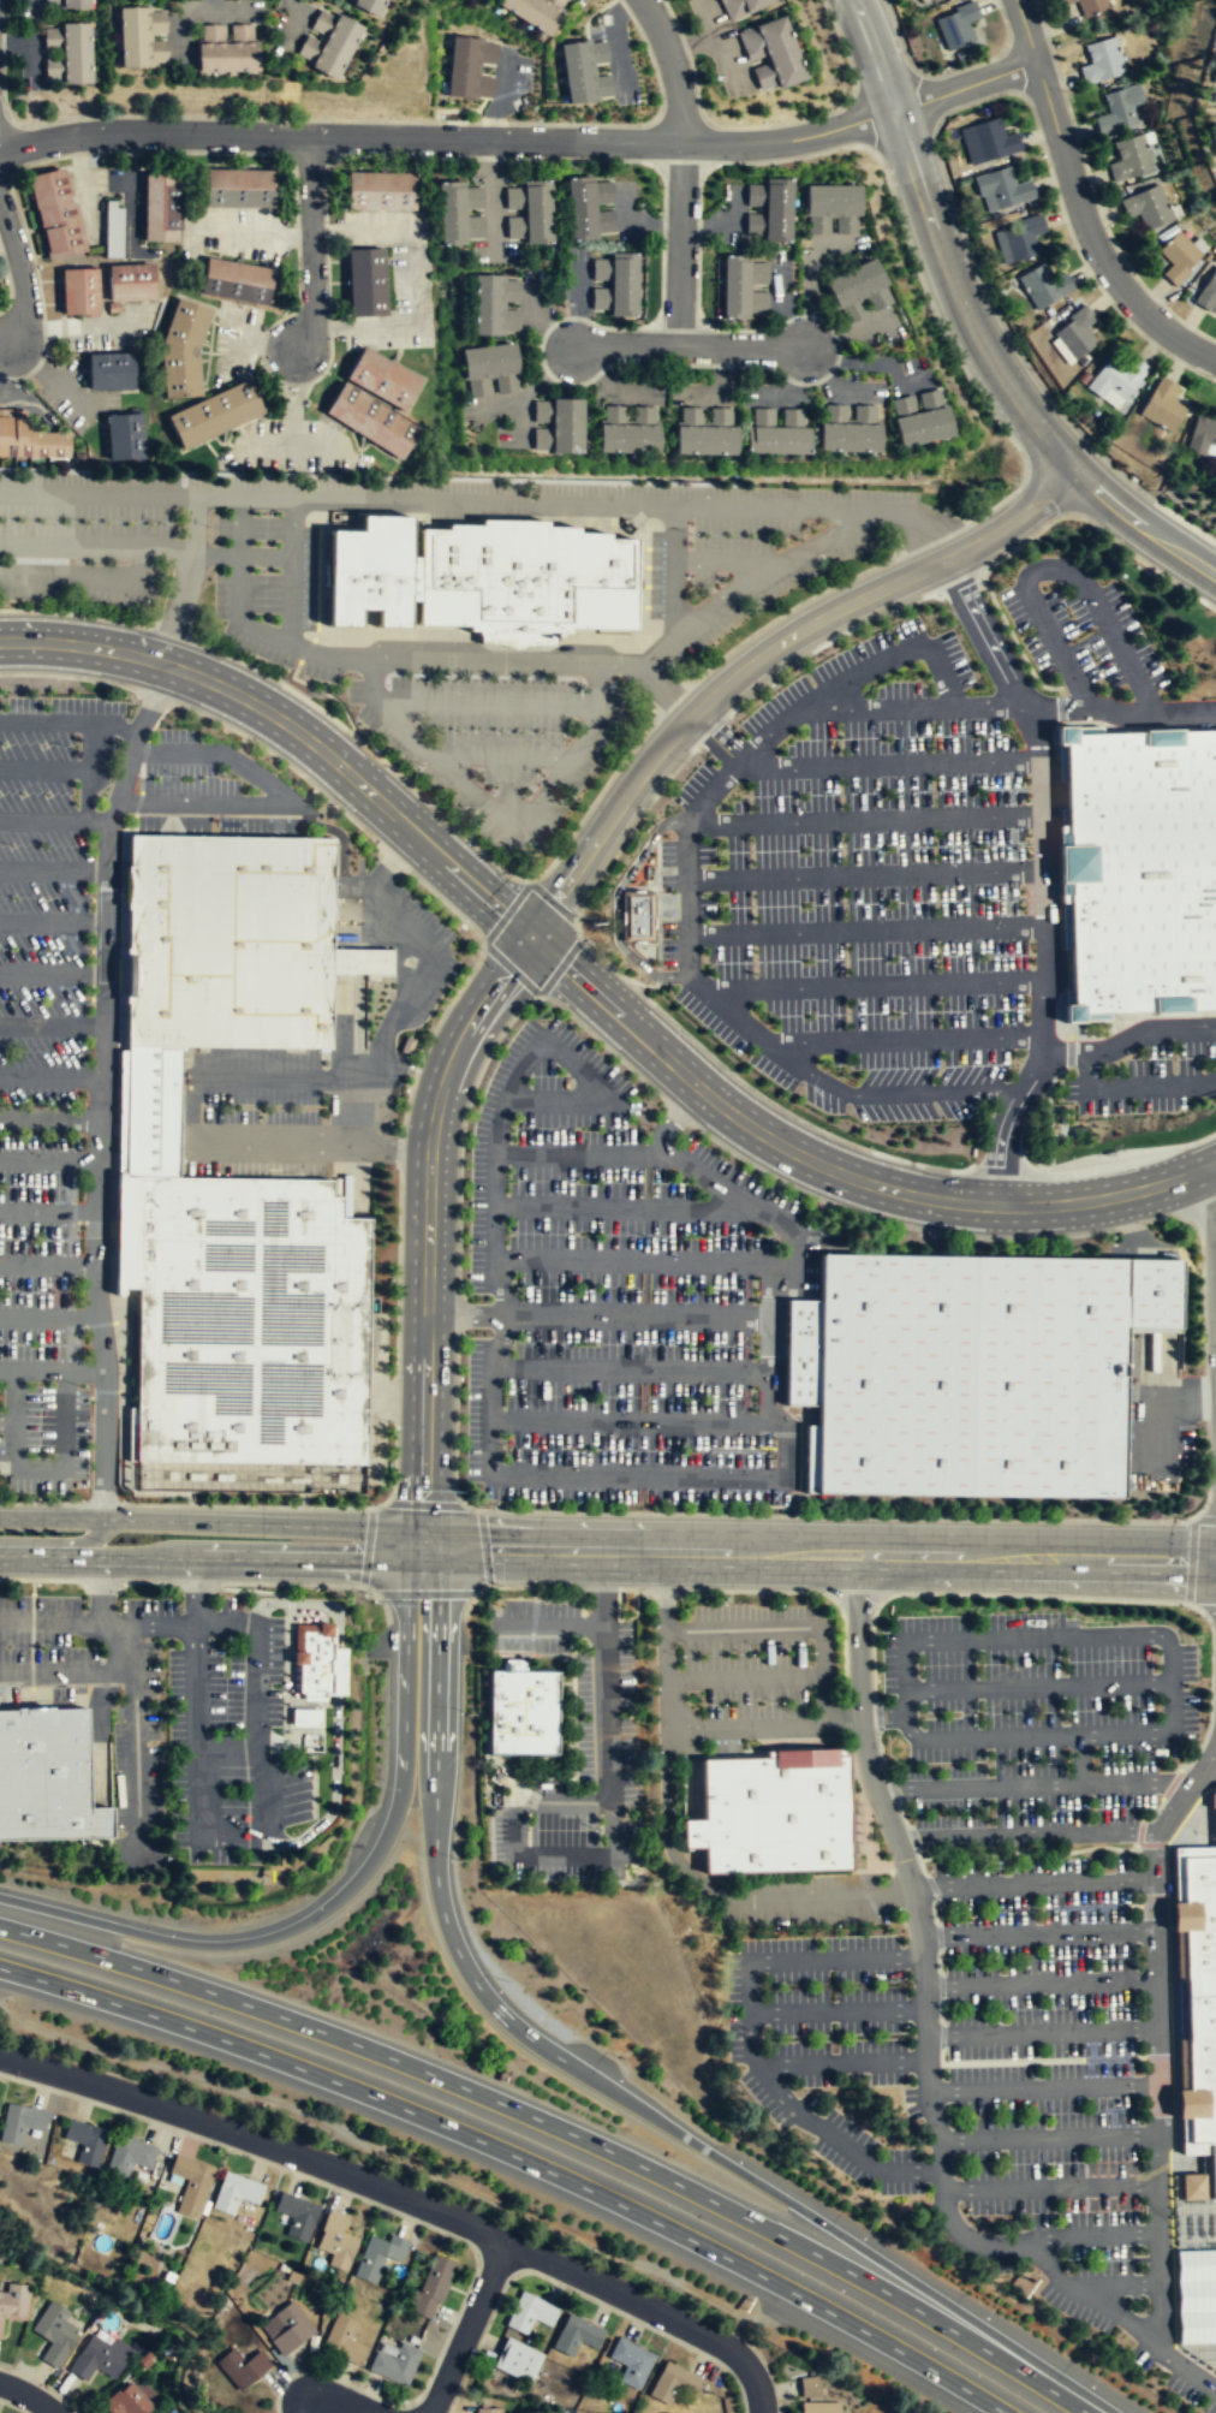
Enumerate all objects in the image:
building: (926, 0)
building: (1063, 1)
building: (66, 5)
building: (368, 6)
building: (740, 7)
building: (1091, 7)
building: (532, 13)
street lamp: (830, 22)
building: (956, 26)
road: (1025, 30)
building: (142, 37)
building: (326, 44)
building: (226, 48)
building: (66, 54)
street lamp: (907, 54)
road: (876, 55)
building: (770, 57)
building: (1102, 61)
road: (673, 67)
building: (467, 70)
building: (584, 72)
building: (1214, 82)
road: (966, 87)
street lamp: (1067, 91)
building: (1120, 112)
road: (340, 133)
road: (792, 141)
building: (989, 143)
building: (1131, 161)
street lamp: (876, 162)
building: (237, 188)
building: (1003, 190)
building: (380, 192)
building: (161, 206)
building: (1148, 208)
building: (831, 209)
building: (590, 210)
building: (767, 212)
building: (459, 213)
building: (527, 213)
building: (55, 214)
building: (113, 228)
road: (1090, 234)
street lamp: (1067, 237)
building: (1018, 240)
road: (679, 244)
road: (311, 245)
building: (1180, 257)
road: (19, 275)
building: (236, 280)
building: (130, 281)
building: (364, 281)
building: (616, 285)
building: (743, 287)
building: (1043, 287)
road: (959, 289)
building: (858, 290)
building: (78, 292)
building: (1208, 292)
building: (495, 305)
building: (1074, 335)
road: (689, 346)
building: (181, 349)
building: (1062, 351)
street lamp: (1166, 357)
building: (489, 370)
building: (108, 372)
building: (1115, 381)
building: (375, 403)
building: (1162, 405)
building: (215, 414)
building: (922, 422)
building: (556, 427)
building: (628, 429)
building: (847, 429)
building: (704, 430)
building: (776, 430)
building: (1202, 435)
building: (124, 436)
building: (29, 440)
road: (1075, 471)
road: (1067, 485)
road: (435, 504)
road: (1096, 527)
road: (291, 529)
road: (1154, 537)
road: (70, 546)
road: (142, 548)
road: (257, 554)
road: (716, 565)
road: (1054, 569)
road: (672, 573)
road: (753, 573)
building: (479, 576)
road: (958, 584)
street lamp: (62, 608)
road: (76, 613)
parking lot: (1079, 629)
road: (828, 641)
road: (1017, 644)
road: (306, 648)
road: (356, 652)
road: (893, 658)
road: (750, 665)
road: (72, 676)
road: (670, 688)
road: (323, 691)
road: (154, 696)
road: (913, 708)
road: (1120, 709)
road: (113, 726)
road: (88, 727)
road: (711, 731)
road: (714, 738)
parking lot: (495, 743)
road: (368, 748)
street lamp: (77, 749)
road: (268, 749)
road: (570, 756)
road: (502, 763)
road: (886, 763)
road: (43, 767)
road: (141, 777)
street lamp: (186, 778)
road: (720, 783)
street lamp: (433, 801)
road: (292, 804)
road: (591, 804)
road: (53, 820)
road: (863, 820)
road: (631, 830)
street lamp: (11, 845)
flagpole: (1027, 850)
road: (392, 858)
road: (53, 869)
building: (1143, 869)
road: (836, 876)
road: (1042, 876)
parking lot: (860, 886)
street lamp: (90, 893)
road: (552, 899)
road: (445, 902)
road: (506, 913)
building: (637, 915)
road: (53, 921)
road: (577, 929)
road: (835, 931)
street lamp: (84, 938)
building: (227, 941)
road: (559, 967)
road: (511, 969)
road: (52, 973)
road: (830, 986)
road: (586, 987)
street lamp: (89, 994)
road: (52, 1026)
road: (431, 1032)
road: (1180, 1033)
road: (902, 1039)
parking lot: (79, 1040)
road: (604, 1044)
road: (1095, 1053)
parking lot: (1145, 1066)
road: (806, 1068)
street lamp: (734, 1071)
road: (269, 1075)
road: (50, 1076)
road: (1208, 1082)
road: (101, 1086)
road: (1126, 1087)
road: (756, 1092)
road: (938, 1092)
road: (597, 1096)
road: (356, 1110)
building: (151, 1111)
road: (1049, 1111)
road: (678, 1113)
road: (50, 1117)
road: (461, 1134)
street lamp: (870, 1146)
road: (400, 1147)
road: (1126, 1152)
road: (546, 1155)
road: (668, 1155)
street lamp: (1072, 1155)
road: (49, 1159)
road: (1006, 1166)
road: (120, 1193)
road: (429, 1205)
road: (570, 1206)
road: (48, 1211)
road: (890, 1223)
street lamp: (1160, 1223)
road: (1131, 1225)
street lamp: (52, 1238)
road: (682, 1261)
road: (48, 1264)
road: (397, 1270)
road: (1202, 1272)
street lamp: (1199, 1273)
building: (1155, 1291)
parking lot: (624, 1295)
road: (461, 1314)
road: (48, 1315)
road: (466, 1318)
road: (637, 1318)
building: (249, 1324)
road: (771, 1342)
road: (52, 1369)
road: (632, 1371)
building: (964, 1374)
street lamp: (78, 1385)
road: (1205, 1396)
road: (395, 1398)
road: (1185, 1398)
road: (1154, 1401)
parking lot: (1158, 1409)
road: (6, 1420)
road: (630, 1420)
road: (455, 1427)
street lamp: (90, 1430)
road: (787, 1440)
road: (37, 1467)
road: (394, 1469)
road: (1208, 1470)
road: (560, 1473)
street lamp: (64, 1499)
road: (41, 1503)
road: (102, 1503)
street lamp: (209, 1503)
road: (245, 1505)
road: (836, 1515)
road: (240, 1522)
road: (410, 1527)
road: (58, 1541)
road: (366, 1546)
traffic signals: (478, 1547)
road: (594, 1547)
road: (962, 1556)
road: (239, 1557)
road: (46, 1579)
road: (101, 1581)
road: (145, 1581)
road: (195, 1582)
road: (285, 1582)
road: (32, 1586)
road: (607, 1587)
road: (101, 1588)
road: (368, 1588)
road: (196, 1589)
road: (251, 1591)
road: (425, 1592)
street lamp: (126, 1595)
road: (291, 1600)
road: (383, 1605)
road: (99, 1621)
road: (226, 1622)
road: (441, 1624)
road: (554, 1624)
street lamp: (225, 1638)
road: (31, 1640)
road: (1162, 1642)
street lamp: (8, 1646)
street lamp: (64, 1646)
building: (315, 1660)
road: (405, 1660)
building: (338, 1670)
road: (66, 1672)
parking lot: (758, 1674)
road: (744, 1678)
road: (823, 1680)
road: (1038, 1686)
road: (198, 1688)
street lamp: (162, 1693)
road: (31, 1695)
road: (338, 1702)
road: (16, 1704)
building: (523, 1712)
road: (609, 1713)
parking lot: (606, 1714)
building: (308, 1717)
street lamp: (227, 1731)
road: (258, 1731)
road: (136, 1736)
parking lot: (230, 1736)
road: (100, 1739)
road: (666, 1743)
road: (230, 1752)
road: (436, 1772)
building: (49, 1773)
street lamp: (375, 1787)
road: (1036, 1788)
street lamp: (168, 1815)
building: (773, 1815)
road: (205, 1825)
road: (1030, 1835)
road: (514, 1853)
street lamp: (185, 1859)
road: (1036, 1883)
street lamp: (305, 1895)
road: (830, 1898)
road: (923, 1906)
street lamp: (168, 1921)
road: (1038, 1934)
road: (249, 1940)
road: (461, 1957)
parking lot: (989, 1961)
road: (1039, 1984)
building: (1198, 1997)
road: (836, 2011)
road: (1039, 2033)
road: (749, 2039)
road: (1155, 2040)
road: (841, 2064)
road: (1041, 2090)
building: (20, 2121)
road: (561, 2128)
road: (256, 2139)
road: (1049, 2139)
building: (88, 2140)
building: (130, 2155)
road: (515, 2157)
road: (406, 2162)
building: (192, 2182)
building: (1193, 2187)
road: (1050, 2188)
building: (237, 2192)
building: (298, 2215)
building: (338, 2240)
road: (850, 2240)
road: (1072, 2240)
building: (380, 2254)
road: (1109, 2283)
building: (433, 2287)
street lamp: (991, 2296)
road: (1085, 2296)
building: (1196, 2298)
building: (13, 2302)
road: (651, 2308)
building: (530, 2313)
road: (466, 2326)
building: (292, 2328)
building: (54, 2332)
building: (576, 2336)
building: (345, 2340)
building: (99, 2359)
building: (517, 2360)
building: (631, 2361)
building: (398, 2363)
street lamp: (1097, 2365)
building: (244, 2366)
road: (1187, 2372)
building: (674, 2384)
building: (809, 2388)
road: (28, 2395)
building: (127, 2400)
road: (342, 2401)
building: (819, 2408)
building: (485, 2411)

